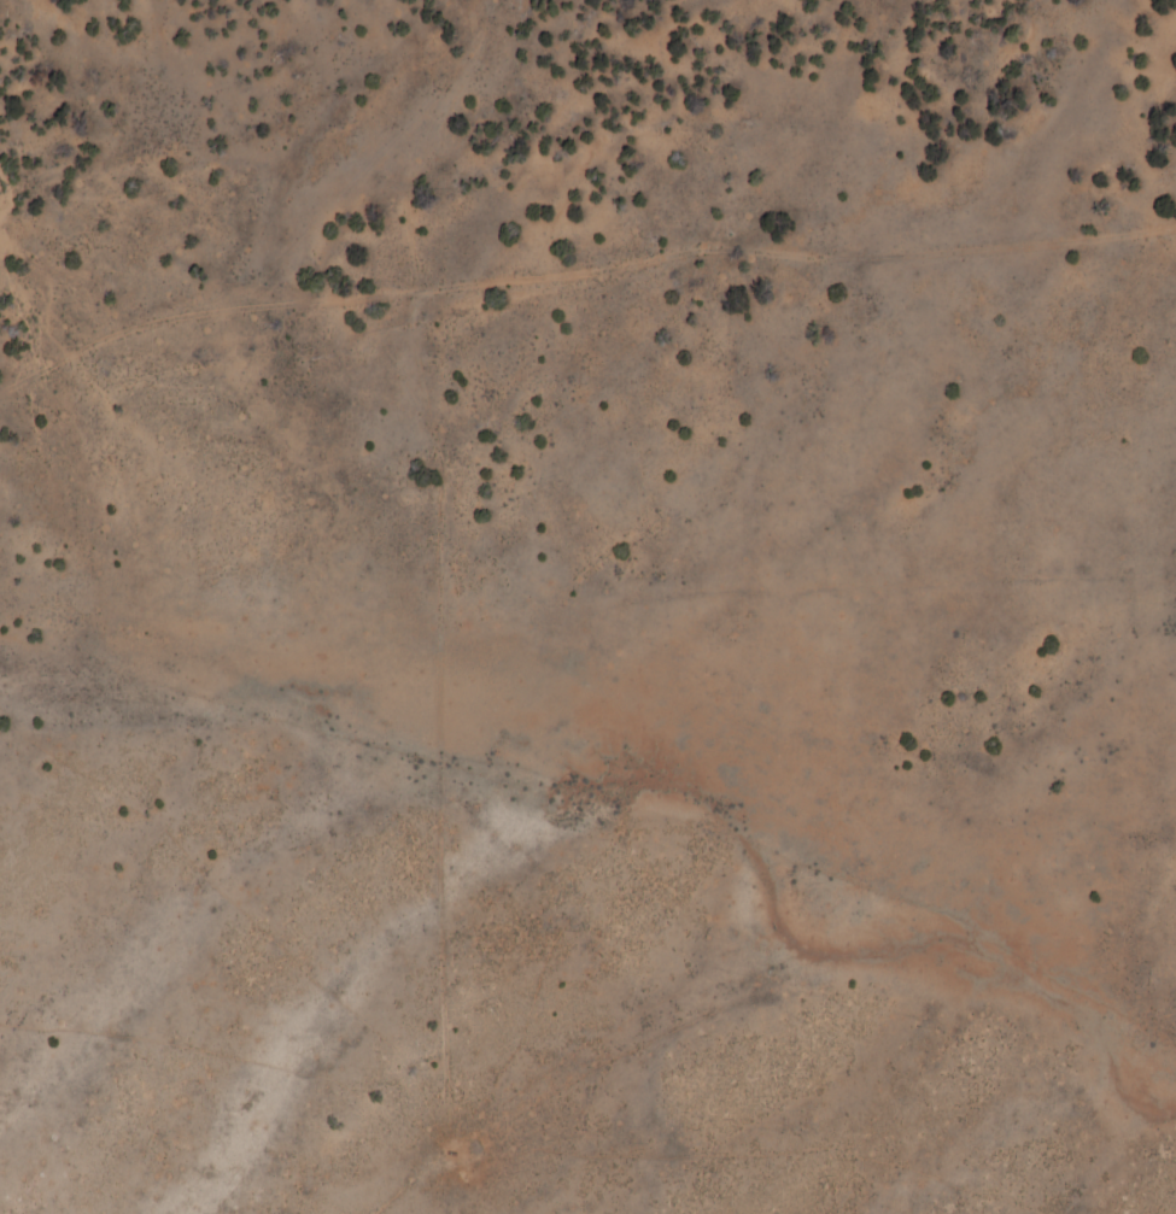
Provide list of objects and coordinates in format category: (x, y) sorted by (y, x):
road: (326, 225)
road: (587, 340)

